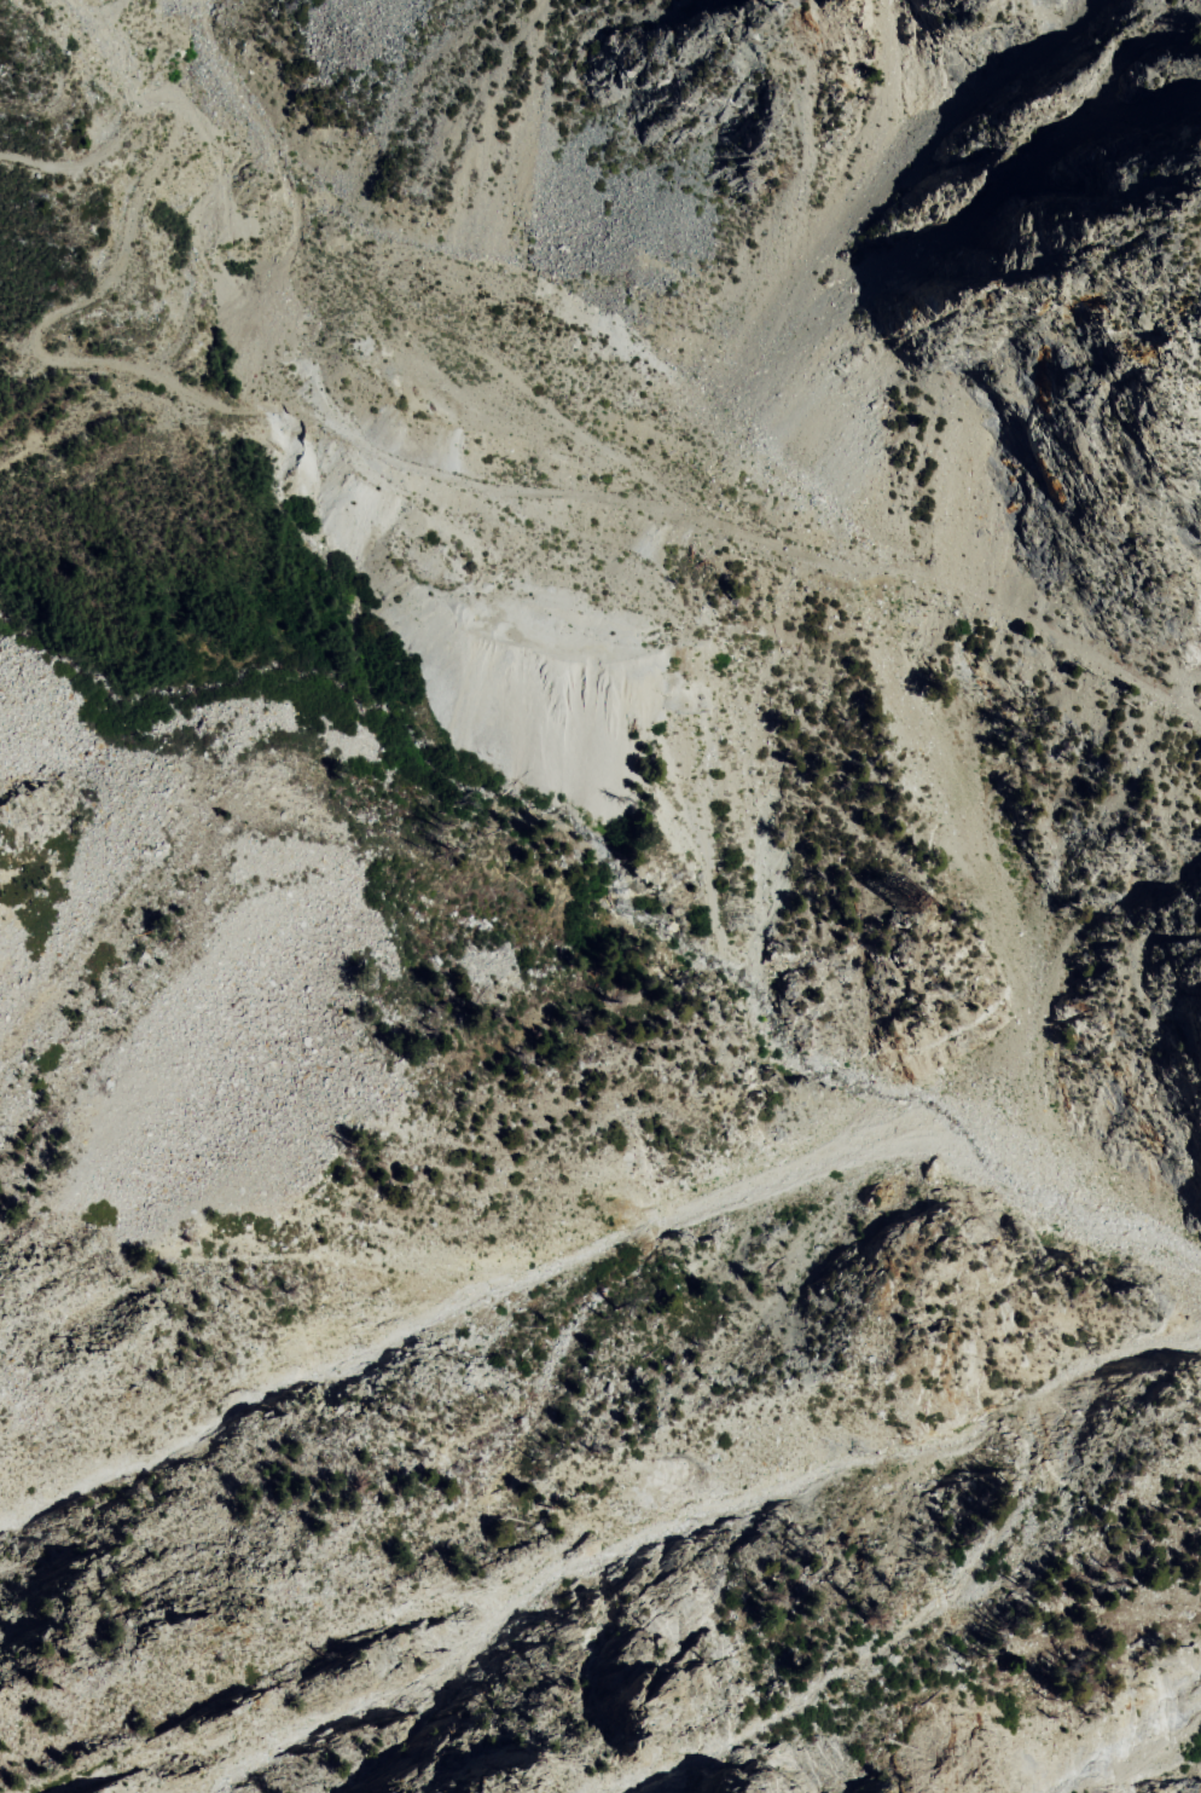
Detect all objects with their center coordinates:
road: (582, 438)
road: (378, 447)
aerialway pylon: (901, 896)

